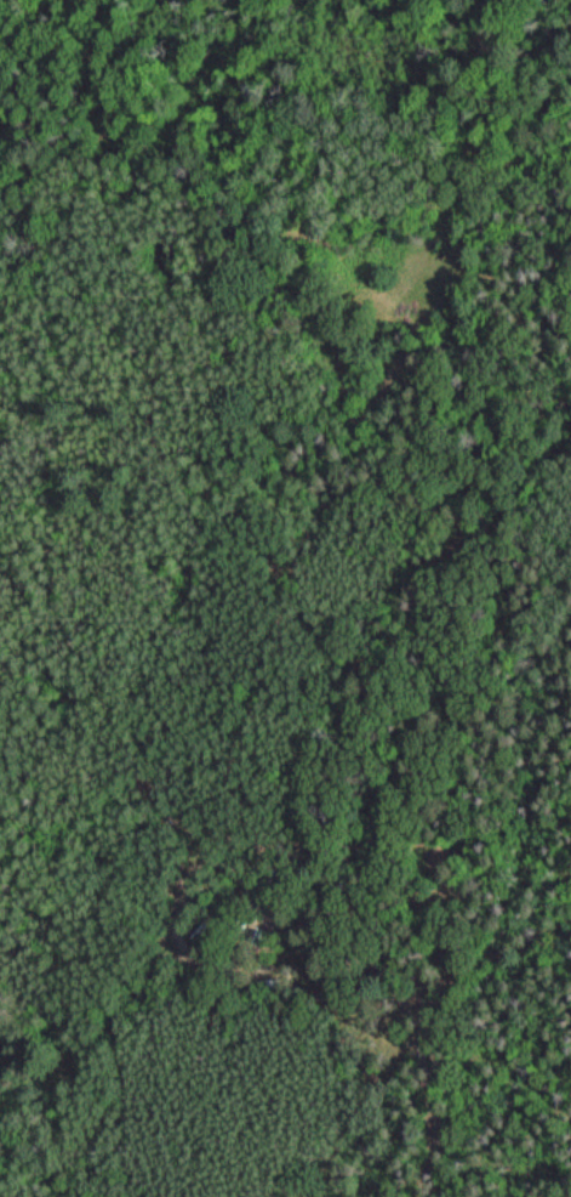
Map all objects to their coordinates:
road: (382, 1002)

